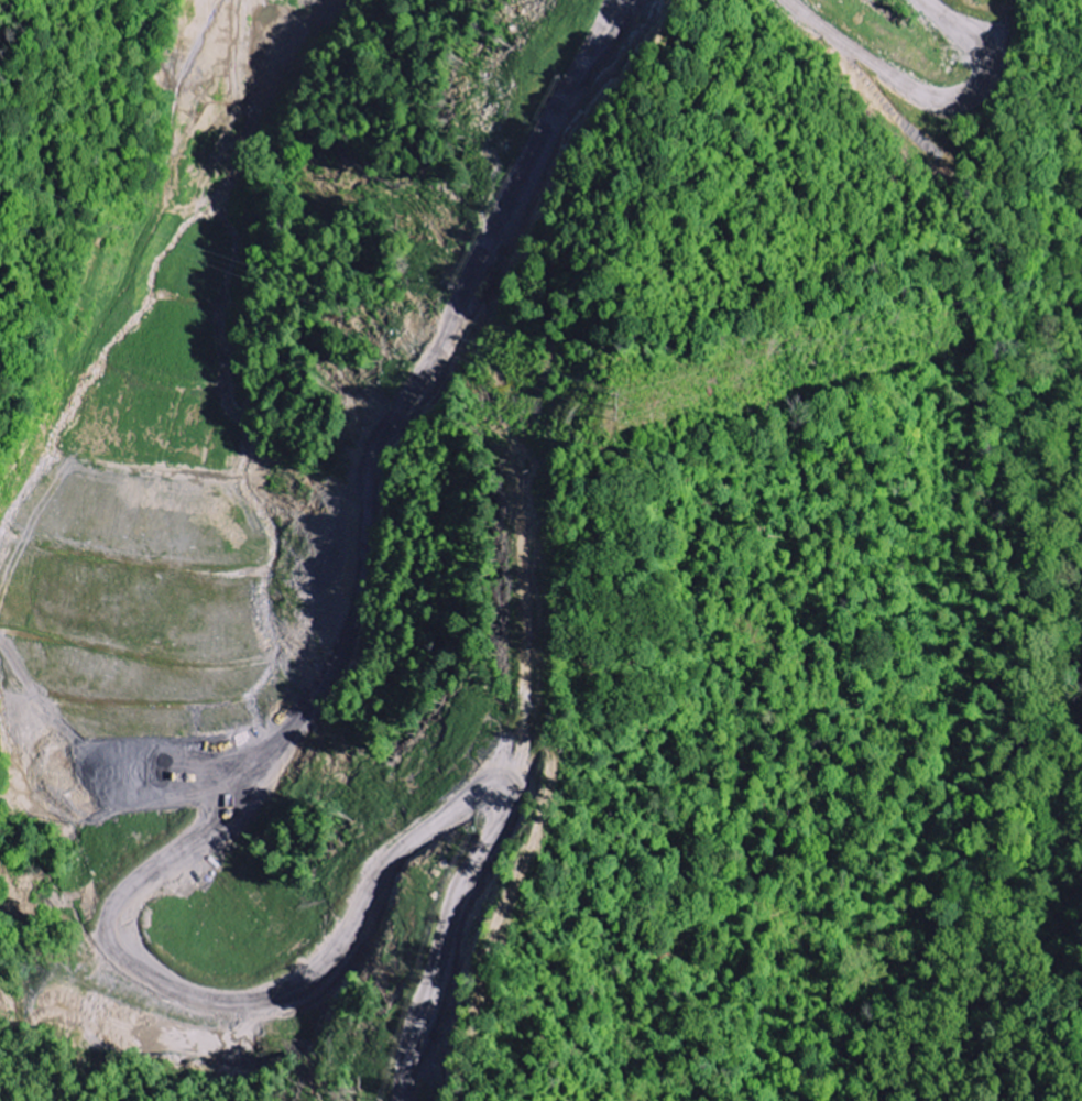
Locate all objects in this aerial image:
power tower: (641, 407)

